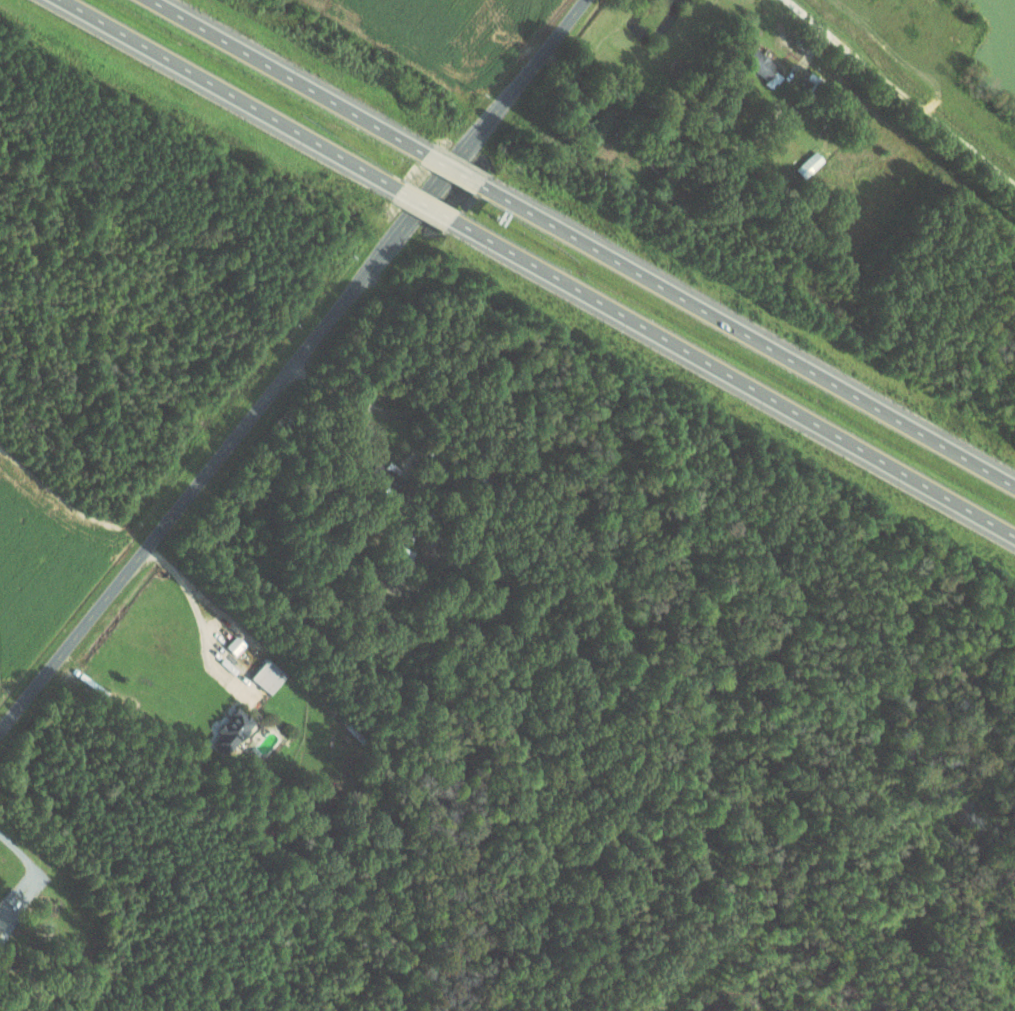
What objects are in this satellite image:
building: (767, 68)
road: (287, 77)
building: (818, 86)
road: (903, 92)
road: (228, 94)
road: (450, 169)
road: (422, 203)
road: (745, 335)
road: (292, 365)
road: (731, 377)
building: (237, 644)
building: (258, 675)
building: (236, 732)
road: (24, 857)

